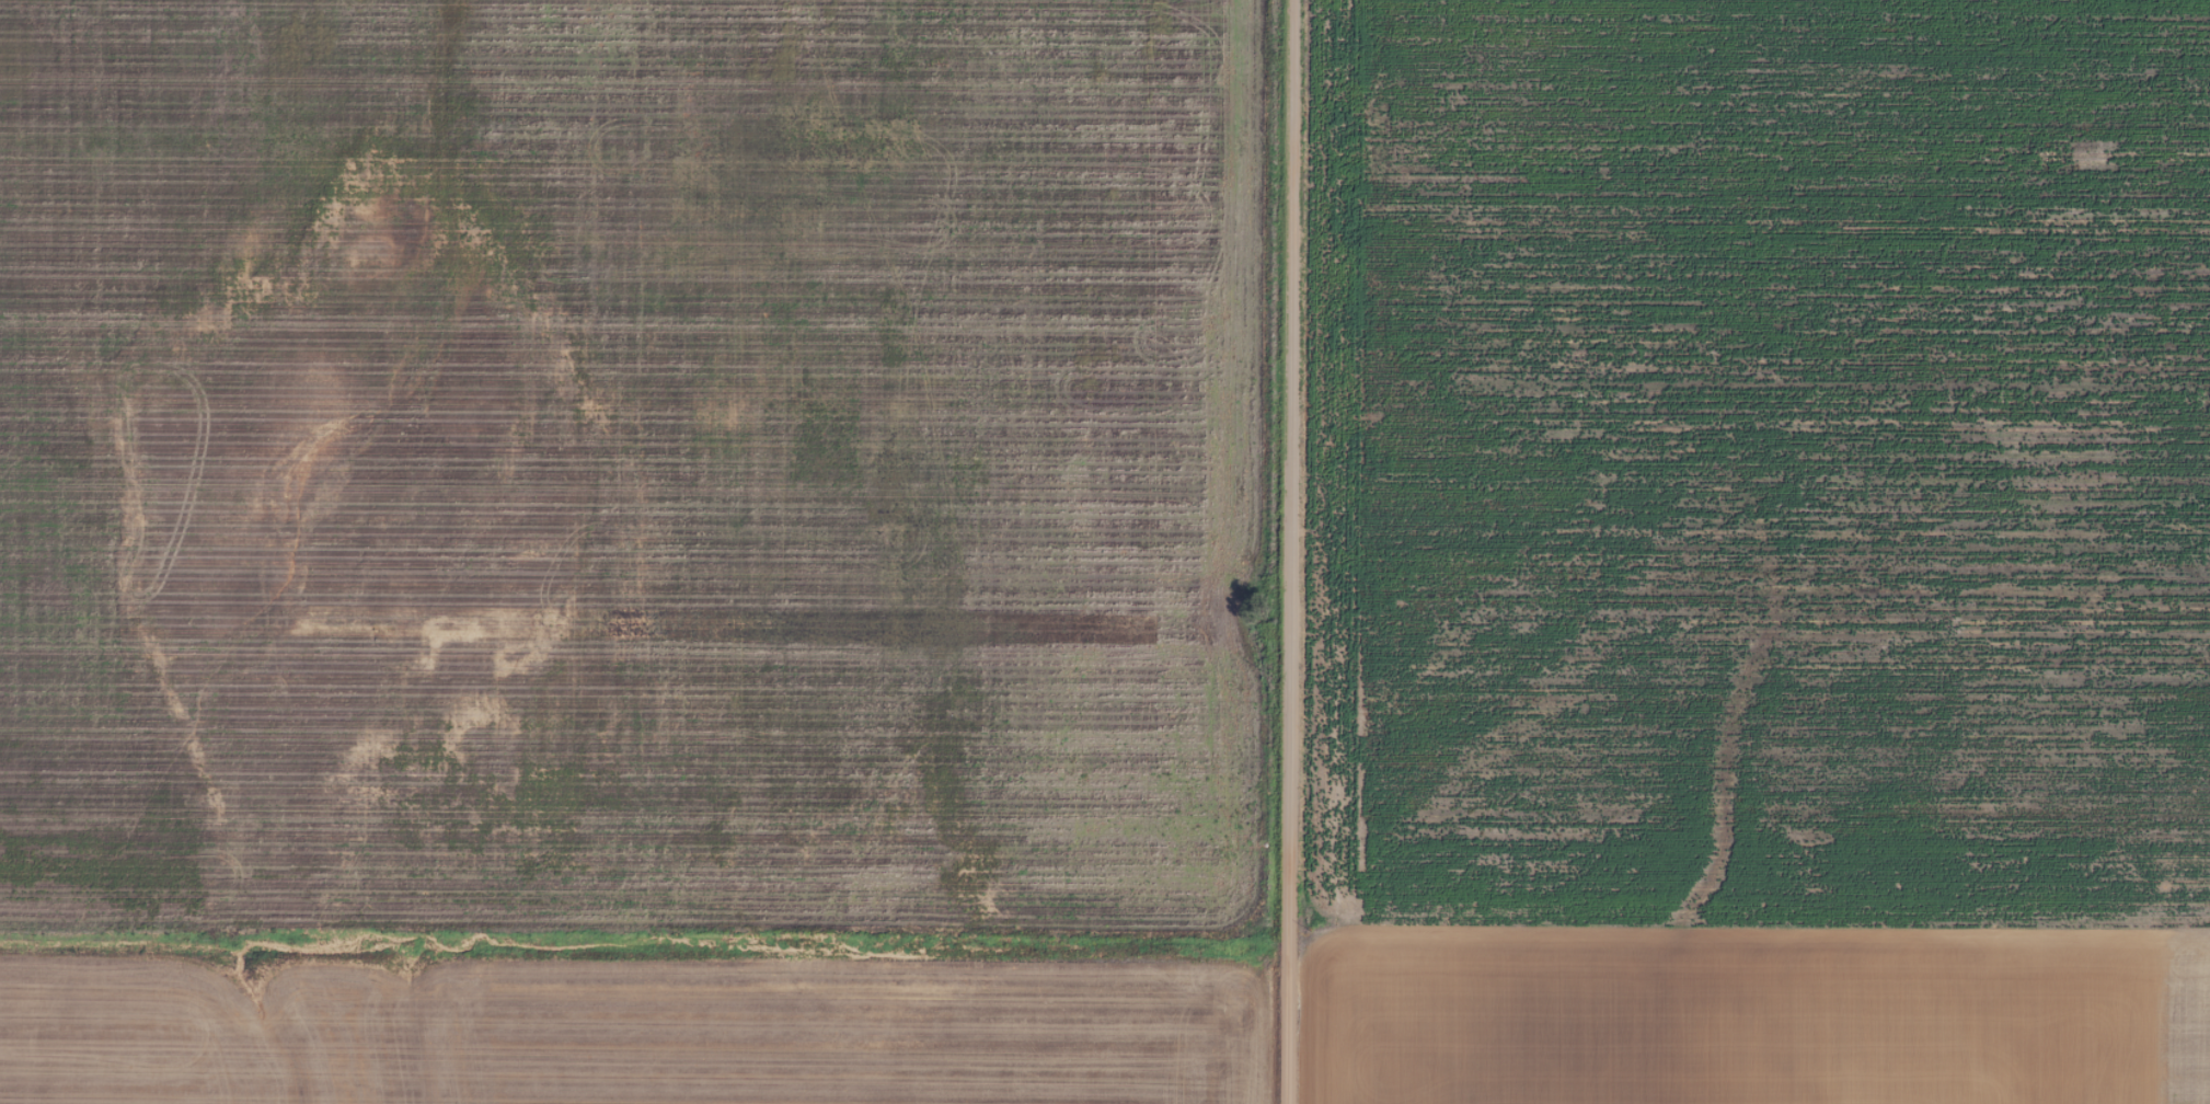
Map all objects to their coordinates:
road: (1281, 552)

